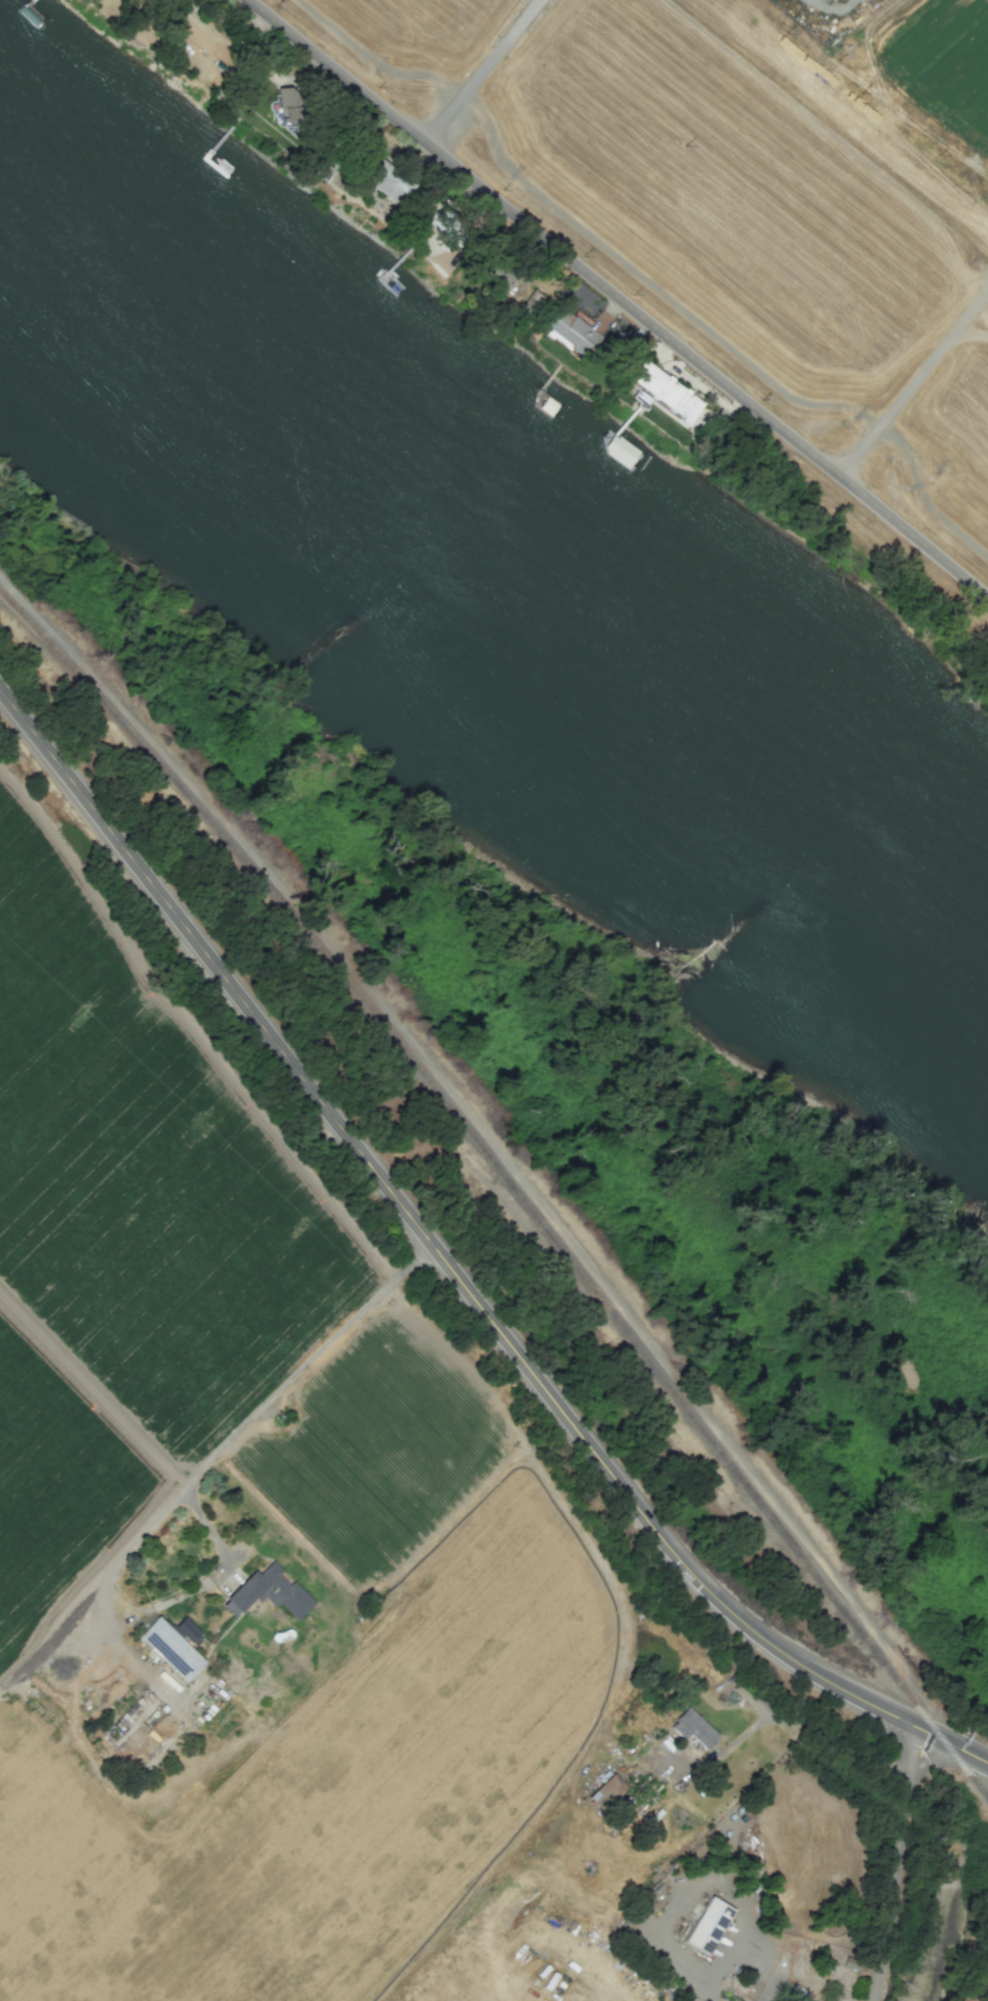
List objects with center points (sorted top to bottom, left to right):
road: (833, 6)
road: (481, 72)
building: (387, 181)
building: (496, 274)
road: (619, 302)
building: (532, 303)
building: (573, 331)
building: (660, 392)
river: (476, 601)
railway: (507, 1182)
road: (453, 1273)
road: (216, 1469)
crop: (242, 1517)
building: (267, 1592)
building: (189, 1633)
building: (169, 1648)
road: (116, 1656)
road: (804, 1721)
building: (692, 1727)
building: (605, 1791)
crop: (754, 1823)
crop: (706, 1825)
road: (898, 1862)
road: (683, 1889)
building: (707, 1925)
road: (771, 1951)
road: (983, 1994)
building: (813, 2000)

